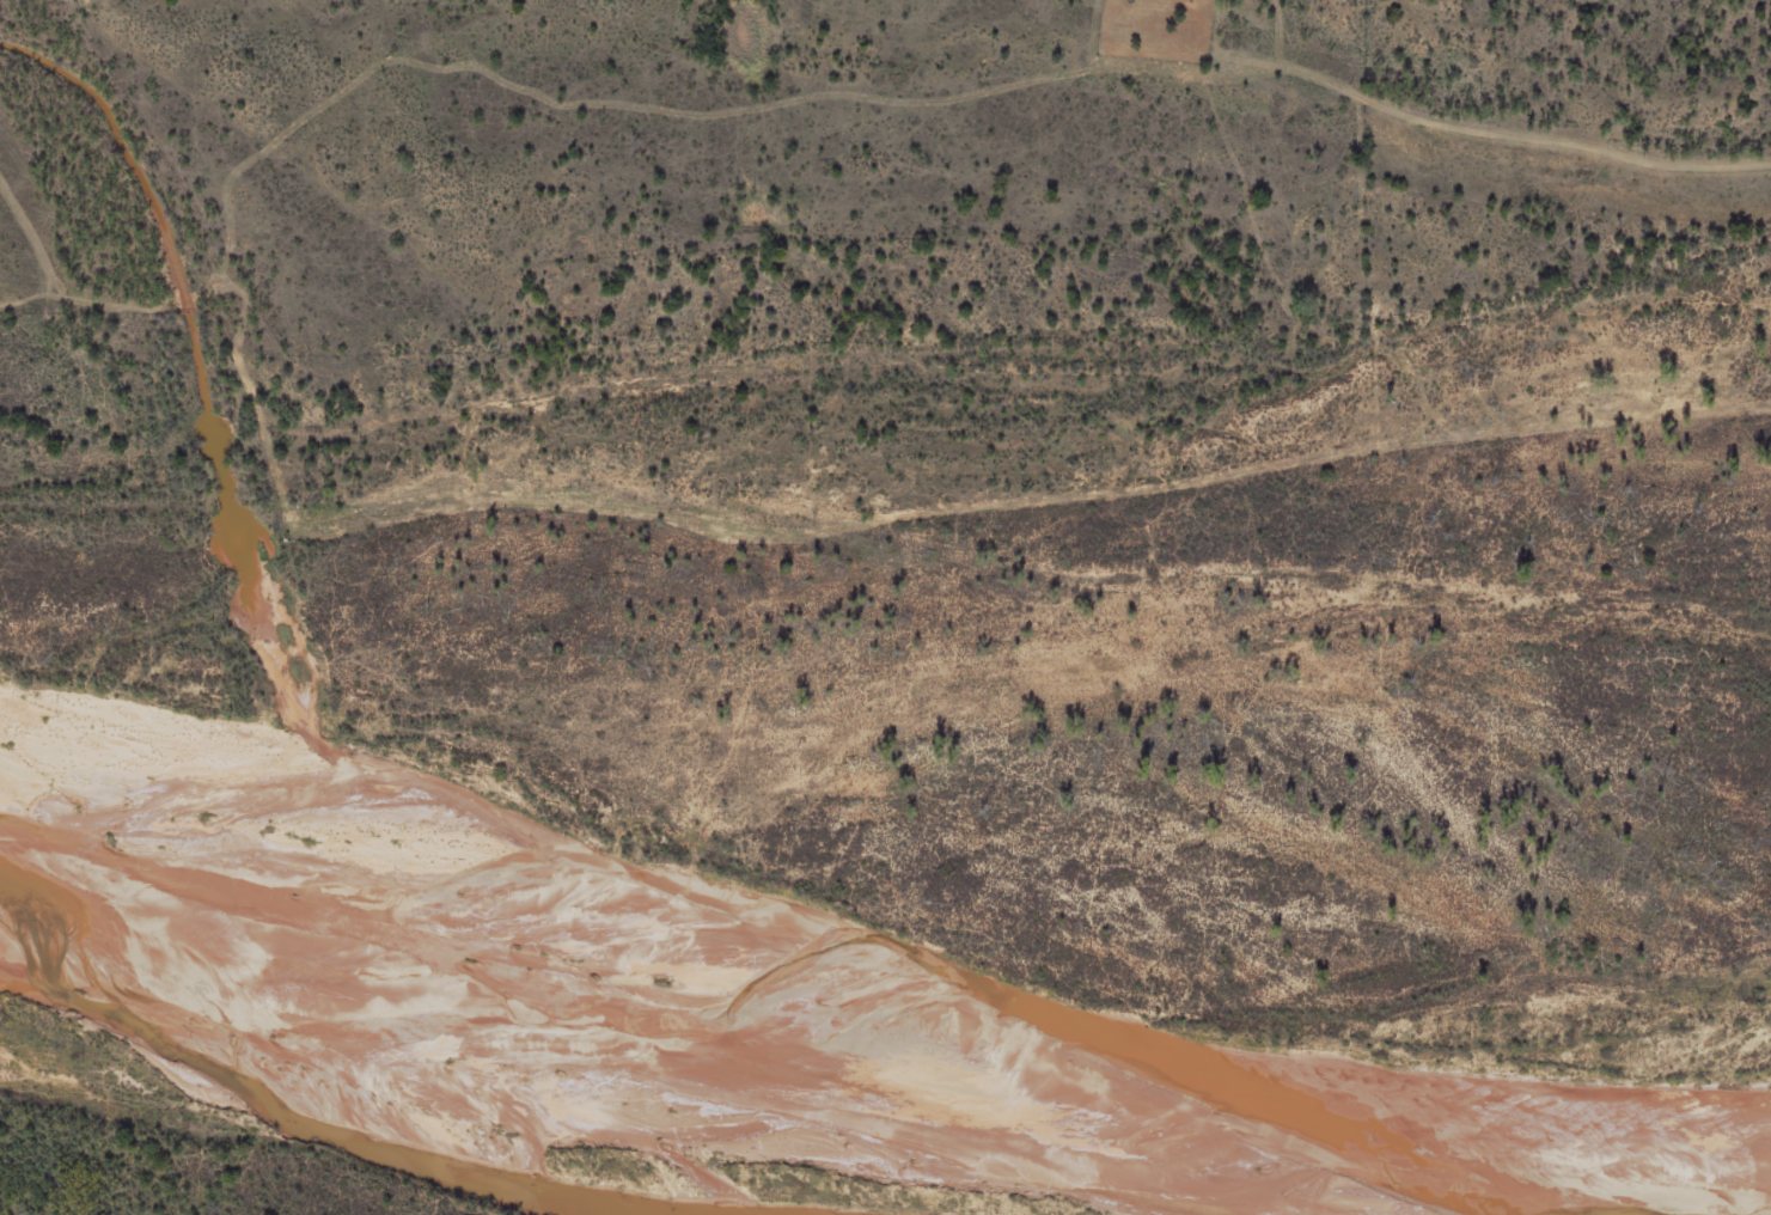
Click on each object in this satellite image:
road: (1031, 470)
river: (679, 920)

